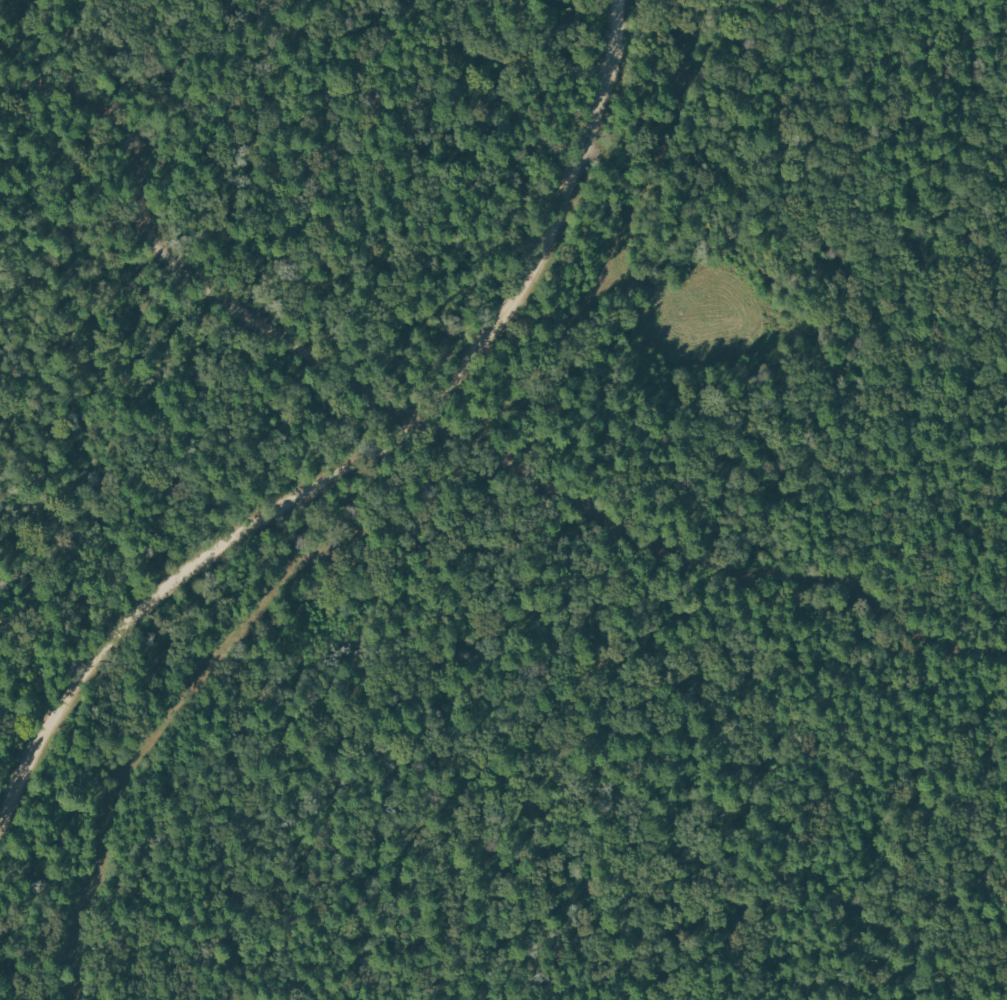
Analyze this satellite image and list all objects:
road: (69, 324)
road: (452, 432)
road: (373, 460)

